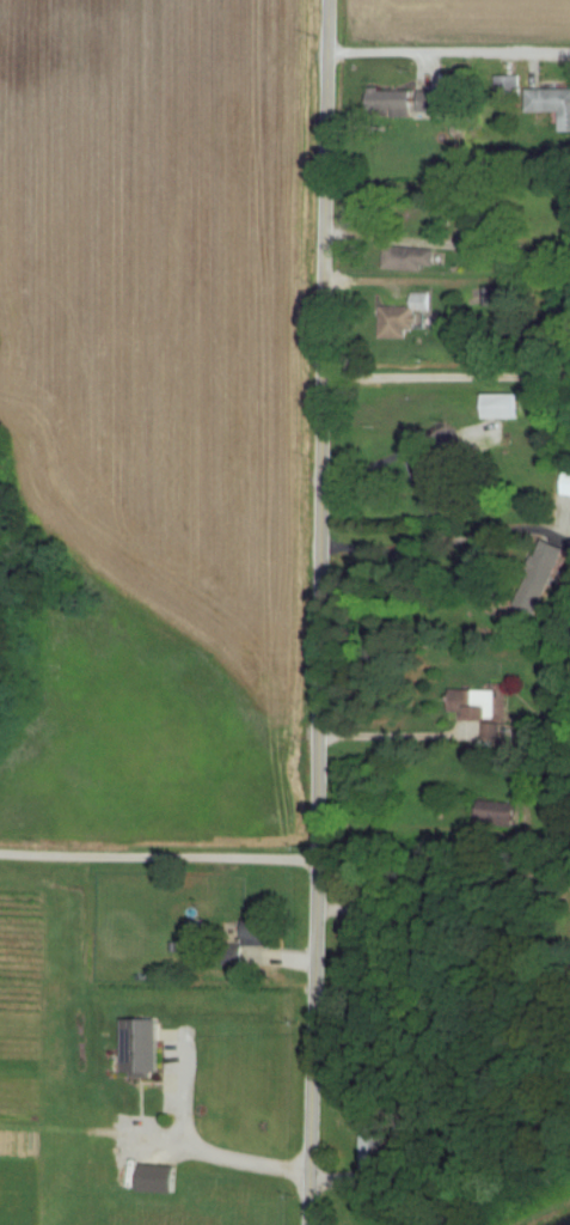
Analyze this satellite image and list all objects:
road: (448, 53)
building: (439, 100)
building: (394, 102)
building: (552, 102)
building: (412, 257)
building: (415, 310)
building: (504, 406)
road: (396, 457)
road: (431, 535)
building: (556, 553)
road: (319, 612)
building: (482, 709)
road: (384, 735)
road: (404, 827)
road: (158, 857)
road: (440, 874)
building: (265, 933)
building: (148, 1047)
road: (241, 1158)
building: (165, 1180)

